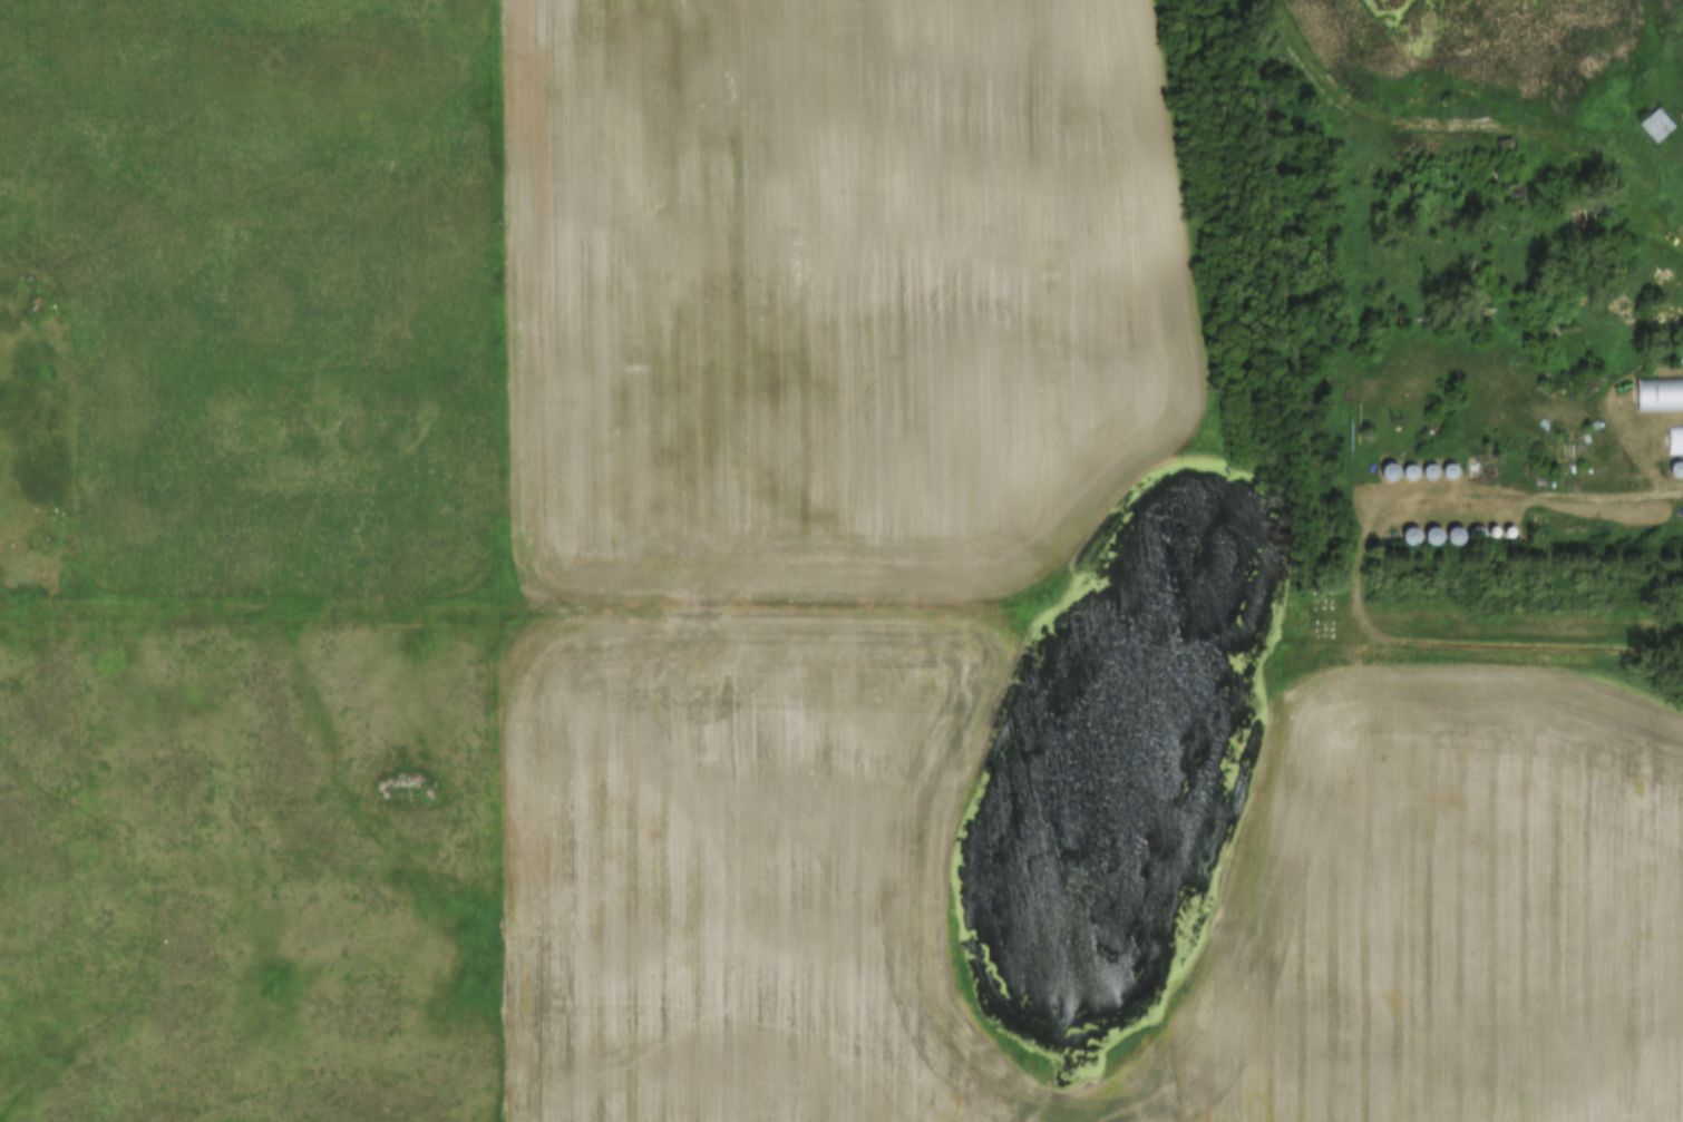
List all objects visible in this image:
building: (1654, 125)
road: (1589, 134)
building: (1679, 357)
building: (1657, 393)
building: (1674, 440)
building: (1674, 469)
road: (1358, 585)

